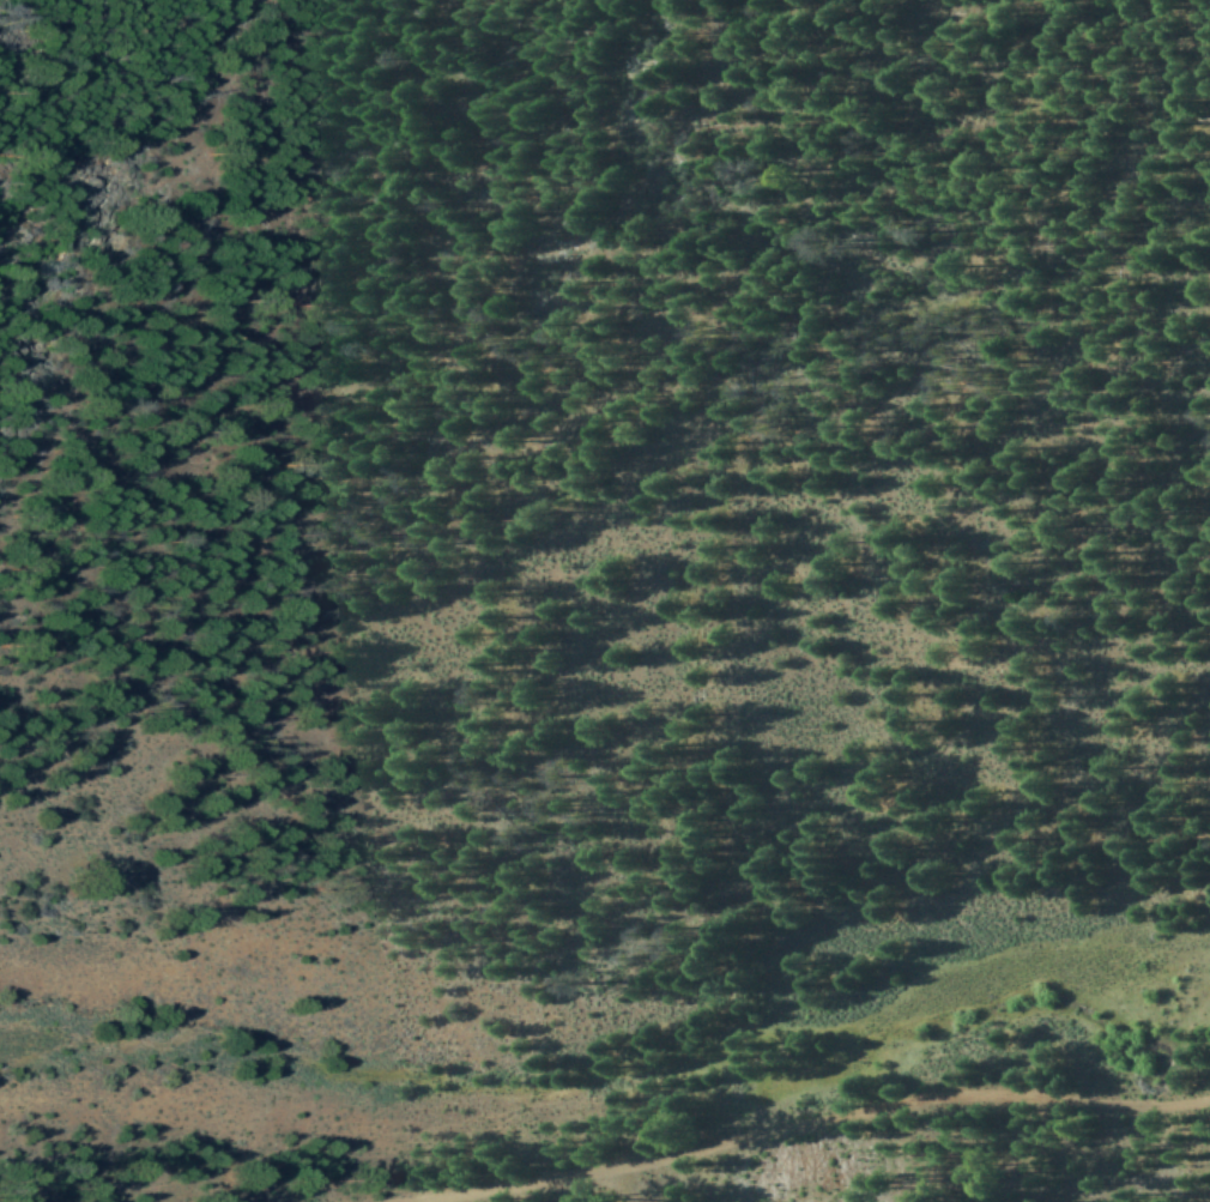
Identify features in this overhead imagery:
road: (919, 979)
road: (540, 1112)

